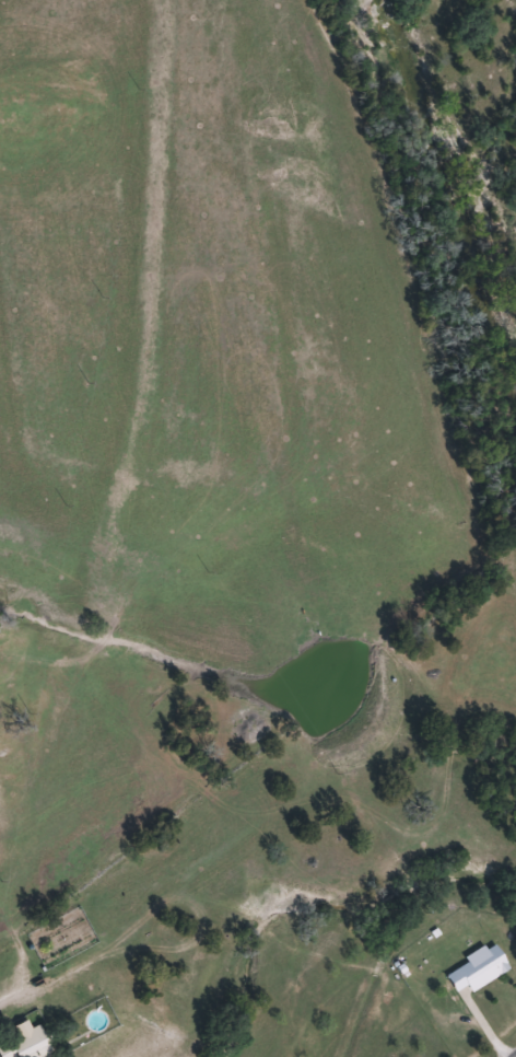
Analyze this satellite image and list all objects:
building: (478, 969)
building: (26, 1046)

